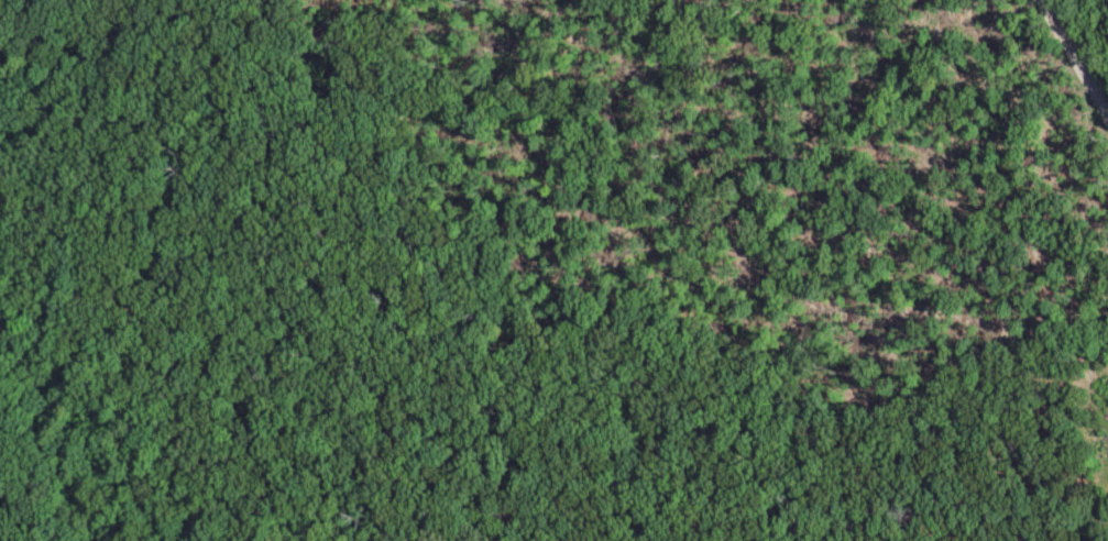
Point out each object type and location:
road: (1069, 63)
road: (1060, 459)

